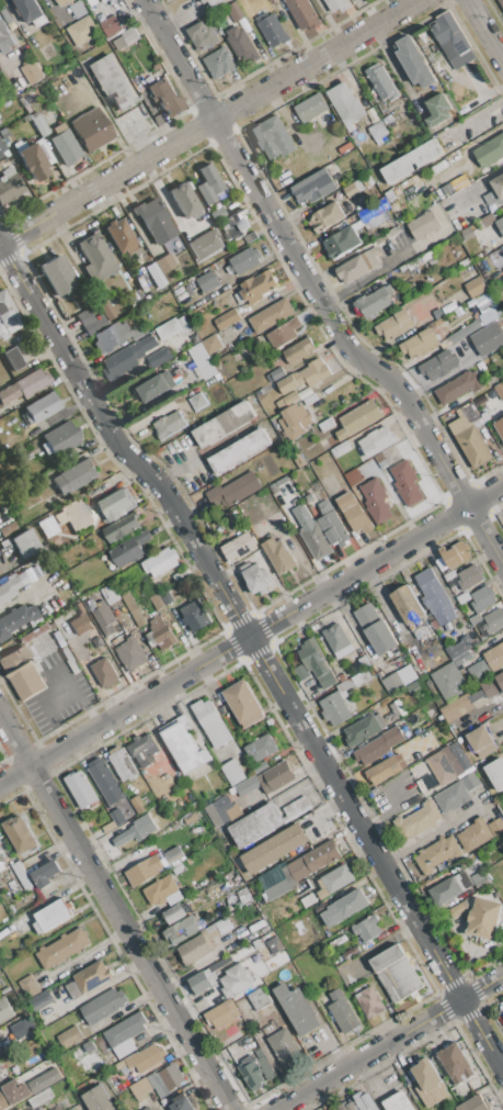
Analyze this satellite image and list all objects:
building: (102, 0)
building: (204, 0)
building: (271, 0)
building: (64, 2)
building: (215, 2)
building: (501, 2)
building: (338, 4)
building: (78, 9)
building: (30, 12)
building: (235, 12)
building: (302, 13)
building: (112, 24)
building: (83, 30)
building: (273, 30)
road: (483, 30)
building: (448, 34)
building: (202, 35)
building: (4, 38)
building: (125, 38)
building: (241, 45)
building: (414, 61)
building: (219, 63)
building: (32, 71)
building: (114, 82)
building: (380, 82)
building: (165, 97)
building: (345, 103)
building: (319, 105)
building: (437, 110)
road: (477, 112)
road: (213, 121)
building: (38, 125)
building: (91, 130)
building: (377, 131)
building: (271, 137)
road: (137, 138)
building: (66, 147)
building: (1, 149)
building: (490, 150)
building: (0, 156)
building: (34, 158)
building: (412, 161)
road: (487, 176)
building: (366, 181)
building: (208, 184)
building: (9, 186)
building: (313, 187)
building: (353, 189)
building: (494, 191)
building: (184, 201)
road: (458, 213)
building: (217, 214)
building: (327, 217)
building: (153, 221)
building: (487, 221)
building: (237, 222)
building: (422, 224)
building: (500, 226)
building: (467, 234)
building: (121, 236)
building: (342, 243)
road: (8, 244)
building: (204, 245)
road: (398, 248)
building: (96, 256)
building: (243, 260)
building: (163, 264)
building: (358, 265)
building: (57, 276)
road: (359, 280)
building: (208, 281)
road: (315, 287)
building: (476, 287)
building: (258, 288)
building: (374, 302)
building: (102, 304)
building: (490, 306)
building: (437, 314)
building: (271, 315)
building: (8, 318)
building: (227, 318)
building: (90, 322)
building: (395, 324)
building: (168, 328)
building: (136, 330)
building: (466, 330)
building: (284, 333)
building: (111, 337)
building: (487, 338)
building: (419, 343)
building: (212, 344)
building: (299, 350)
building: (159, 357)
building: (127, 358)
building: (476, 358)
building: (14, 359)
building: (202, 361)
building: (438, 365)
building: (480, 367)
building: (277, 373)
building: (305, 377)
building: (24, 386)
building: (155, 386)
building: (458, 388)
building: (499, 390)
building: (290, 399)
building: (310, 400)
building: (197, 401)
building: (38, 410)
building: (357, 419)
building: (294, 421)
building: (224, 424)
building: (169, 425)
building: (327, 425)
building: (500, 427)
building: (472, 436)
building: (61, 439)
building: (377, 440)
building: (340, 448)
building: (240, 451)
building: (391, 453)
building: (298, 458)
road: (175, 468)
building: (75, 475)
building: (353, 476)
building: (405, 483)
building: (235, 491)
building: (309, 497)
building: (376, 502)
building: (117, 504)
building: (353, 513)
building: (76, 515)
building: (332, 525)
building: (47, 527)
building: (123, 531)
building: (311, 534)
building: (24, 543)
building: (239, 547)
building: (130, 548)
building: (457, 554)
building: (279, 559)
building: (160, 562)
building: (181, 575)
building: (256, 578)
building: (470, 578)
building: (11, 586)
road: (23, 595)
building: (164, 596)
building: (462, 596)
building: (435, 597)
building: (483, 597)
building: (157, 602)
building: (408, 605)
building: (133, 608)
building: (103, 617)
building: (196, 617)
building: (475, 618)
building: (15, 619)
building: (80, 620)
building: (493, 621)
building: (376, 628)
building: (160, 634)
building: (33, 635)
road: (251, 638)
building: (339, 640)
building: (458, 647)
building: (130, 653)
road: (261, 653)
building: (494, 657)
building: (316, 662)
building: (478, 671)
building: (301, 672)
building: (22, 673)
building: (105, 673)
building: (400, 676)
building: (448, 682)
building: (352, 683)
building: (493, 684)
building: (412, 686)
road: (73, 688)
building: (242, 703)
building: (456, 707)
building: (398, 708)
building: (334, 709)
road: (37, 717)
building: (212, 722)
road: (500, 724)
building: (364, 729)
building: (482, 742)
building: (183, 744)
building: (378, 745)
building: (260, 749)
building: (141, 750)
building: (123, 763)
building: (449, 763)
building: (260, 767)
building: (387, 769)
building: (232, 772)
building: (495, 773)
building: (276, 777)
building: (105, 781)
building: (470, 782)
building: (247, 785)
building: (80, 788)
road: (400, 789)
building: (453, 797)
building: (138, 804)
building: (221, 810)
road: (386, 815)
building: (114, 820)
building: (265, 821)
building: (418, 821)
road: (433, 829)
building: (136, 830)
building: (479, 833)
building: (21, 834)
building: (274, 848)
building: (173, 854)
building: (435, 854)
building: (1, 860)
building: (312, 861)
building: (178, 867)
building: (145, 871)
building: (45, 874)
building: (22, 875)
building: (480, 879)
building: (334, 881)
building: (278, 888)
building: (449, 888)
building: (162, 892)
building: (245, 898)
building: (308, 900)
building: (345, 907)
road: (116, 909)
building: (459, 909)
building: (175, 912)
building: (53, 915)
building: (484, 918)
building: (367, 928)
building: (181, 930)
building: (202, 942)
building: (274, 945)
building: (61, 949)
building: (351, 953)
building: (396, 974)
building: (206, 977)
building: (88, 979)
building: (237, 979)
building: (28, 986)
road: (93, 989)
road: (473, 994)
building: (260, 999)
building: (41, 1000)
building: (369, 1001)
building: (101, 1007)
building: (296, 1008)
building: (4, 1010)
building: (342, 1011)
building: (224, 1019)
building: (25, 1025)
building: (124, 1035)
building: (69, 1038)
building: (283, 1046)
road: (333, 1047)
building: (0, 1054)
building: (145, 1058)
road: (359, 1061)
building: (455, 1063)
building: (0, 1069)
building: (251, 1074)
building: (426, 1075)
building: (0, 1077)
building: (165, 1081)
building: (13, 1094)
building: (39, 1098)
building: (98, 1099)
building: (365, 1101)
building: (397, 1101)
road: (307, 1102)
building: (181, 1103)
building: (475, 1105)
building: (347, 1107)
building: (19, 1109)

